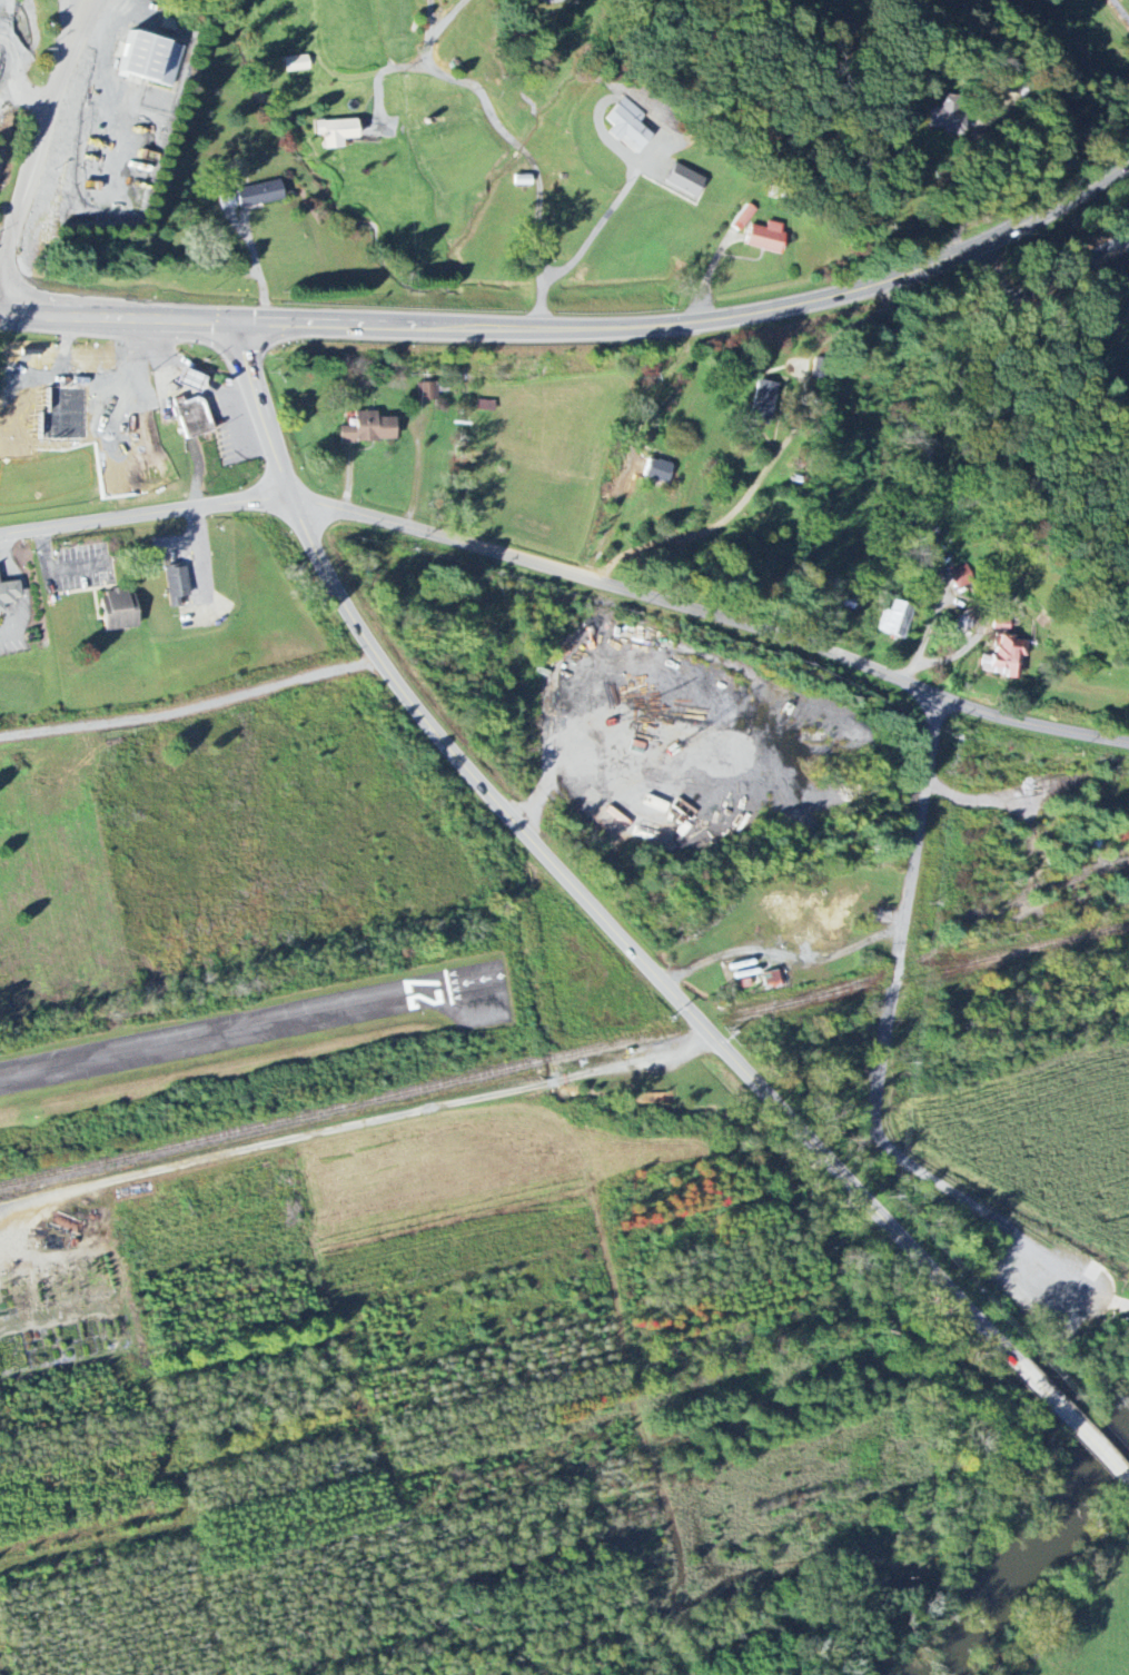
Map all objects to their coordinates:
building: (148, 58)
building: (296, 63)
building: (947, 118)
quarry: (89, 126)
building: (628, 126)
building: (336, 131)
road: (40, 149)
building: (685, 182)
building: (260, 194)
building: (743, 217)
road: (541, 234)
building: (767, 237)
road: (258, 268)
traffic signals: (238, 319)
road: (580, 333)
building: (192, 380)
building: (428, 392)
building: (767, 399)
building: (194, 418)
building: (369, 429)
road: (640, 453)
building: (660, 470)
road: (179, 542)
road: (204, 553)
road: (56, 566)
road: (571, 574)
building: (962, 576)
building: (178, 585)
road: (23, 589)
building: (10, 594)
building: (119, 611)
building: (895, 620)
building: (967, 621)
building: (1004, 654)
building: (656, 804)
road: (566, 880)
railway: (960, 932)
building: (772, 980)
airport runway: (248, 1029)
road: (883, 1042)
railway: (564, 1054)
airport: (249, 1058)
parking lot: (1054, 1280)
road: (1100, 1294)
road: (1111, 1300)
road: (1120, 1300)
road: (1119, 1308)
parking lot: (1070, 1328)
road: (1073, 1421)
river: (1029, 1549)

